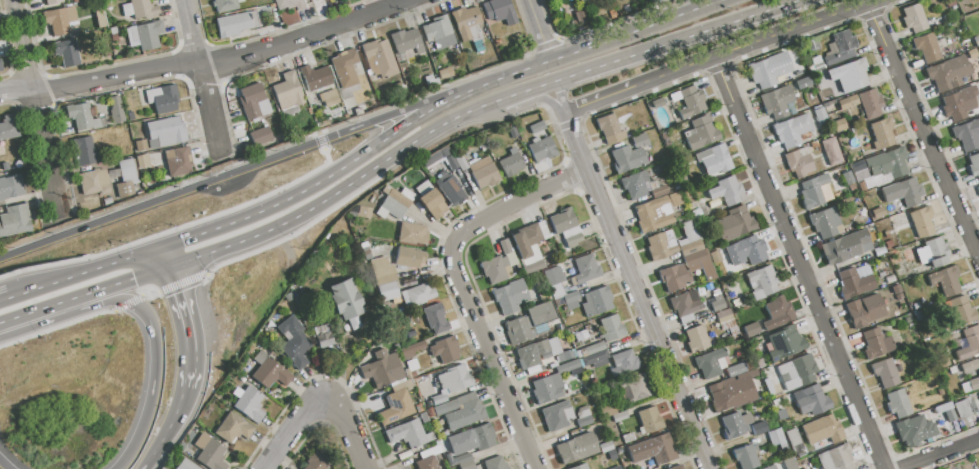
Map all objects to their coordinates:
building: (317, 0)
building: (549, 0)
building: (581, 0)
building: (53, 1)
building: (656, 1)
building: (108, 4)
building: (225, 4)
building: (292, 4)
building: (137, 8)
building: (500, 11)
building: (913, 18)
building: (100, 19)
building: (61, 23)
building: (235, 23)
building: (466, 23)
road: (794, 27)
building: (436, 28)
road: (636, 30)
road: (539, 31)
building: (146, 35)
road: (675, 41)
building: (407, 42)
building: (811, 45)
building: (926, 47)
building: (840, 48)
building: (66, 53)
building: (378, 57)
building: (815, 60)
road: (226, 61)
building: (1, 66)
building: (818, 67)
building: (345, 68)
building: (764, 72)
building: (948, 73)
building: (856, 74)
road: (201, 76)
building: (315, 77)
road: (639, 84)
building: (802, 84)
road: (16, 92)
road: (525, 92)
building: (288, 94)
building: (330, 98)
road: (533, 99)
building: (161, 100)
building: (852, 100)
road: (35, 101)
building: (689, 101)
building: (776, 102)
building: (115, 103)
building: (253, 103)
building: (657, 103)
building: (843, 103)
building: (871, 103)
building: (952, 107)
building: (130, 116)
building: (83, 117)
building: (839, 125)
building: (8, 127)
building: (536, 127)
road: (923, 127)
building: (609, 129)
building: (792, 130)
building: (513, 132)
building: (882, 132)
building: (165, 133)
building: (701, 133)
building: (967, 134)
building: (261, 136)
building: (853, 142)
building: (141, 145)
building: (541, 148)
building: (85, 152)
building: (832, 152)
building: (630, 154)
building: (436, 156)
road: (353, 158)
building: (713, 160)
building: (142, 161)
building: (451, 161)
building: (798, 161)
building: (460, 162)
building: (511, 162)
building: (177, 163)
building: (888, 163)
building: (974, 165)
road: (252, 166)
building: (482, 171)
building: (859, 171)
building: (126, 178)
building: (94, 181)
building: (634, 185)
building: (11, 187)
building: (385, 188)
building: (450, 188)
building: (977, 189)
road: (338, 190)
building: (659, 191)
building: (727, 191)
building: (814, 191)
building: (903, 191)
building: (407, 194)
building: (399, 198)
building: (675, 199)
building: (107, 201)
building: (431, 203)
building: (390, 208)
building: (363, 212)
building: (878, 213)
building: (653, 215)
building: (15, 221)
building: (921, 221)
building: (825, 223)
building: (734, 224)
building: (566, 227)
building: (413, 234)
building: (528, 237)
traffic signals: (182, 240)
building: (661, 245)
building: (504, 246)
building: (844, 246)
building: (691, 247)
building: (754, 249)
building: (933, 252)
building: (909, 255)
building: (715, 256)
building: (409, 257)
road: (163, 258)
road: (797, 261)
building: (700, 263)
building: (586, 268)
building: (497, 269)
building: (384, 274)
road: (77, 275)
building: (552, 276)
road: (630, 276)
building: (675, 277)
traffic signals: (133, 279)
building: (764, 280)
building: (945, 280)
road: (118, 283)
building: (854, 283)
road: (460, 285)
traffic signals: (183, 290)
building: (557, 290)
building: (387, 291)
building: (420, 293)
building: (510, 296)
building: (544, 296)
building: (567, 298)
building: (596, 302)
building: (346, 303)
building: (685, 303)
building: (717, 304)
building: (571, 305)
building: (962, 309)
building: (864, 310)
road: (33, 312)
building: (541, 313)
building: (568, 313)
building: (778, 313)
building: (724, 316)
building: (435, 318)
road: (190, 327)
building: (611, 327)
building: (751, 329)
building: (519, 330)
building: (581, 335)
building: (696, 339)
building: (324, 340)
building: (293, 342)
building: (876, 342)
building: (784, 343)
building: (968, 343)
building: (592, 349)
building: (412, 350)
road: (152, 351)
building: (444, 351)
building: (536, 354)
building: (565, 355)
building: (594, 357)
building: (623, 362)
building: (711, 363)
building: (567, 366)
building: (970, 366)
building: (736, 369)
building: (269, 371)
building: (382, 371)
building: (796, 372)
building: (885, 373)
building: (454, 379)
building: (973, 383)
building: (633, 387)
building: (547, 388)
building: (978, 392)
building: (732, 393)
building: (438, 400)
building: (812, 401)
building: (453, 403)
building: (250, 404)
building: (898, 404)
building: (395, 405)
building: (943, 407)
building: (962, 408)
building: (581, 412)
building: (465, 415)
building: (556, 415)
building: (949, 415)
building: (619, 416)
building: (423, 417)
building: (649, 420)
road: (167, 421)
building: (583, 421)
building: (735, 425)
building: (232, 428)
road: (351, 428)
building: (758, 428)
road: (289, 429)
building: (823, 429)
building: (914, 431)
building: (408, 434)
building: (480, 436)
building: (775, 437)
building: (794, 441)
building: (181, 446)
building: (605, 447)
building: (576, 448)
building: (663, 449)
building: (210, 452)
building: (429, 452)
road: (937, 453)
building: (746, 457)
building: (450, 458)
building: (836, 458)
road: (146, 461)
building: (314, 462)
building: (465, 462)
building: (426, 463)
building: (495, 463)
road: (5, 464)
building: (185, 465)
building: (579, 467)
building: (616, 467)
building: (676, 467)
building: (770, 467)
building: (162, 468)

